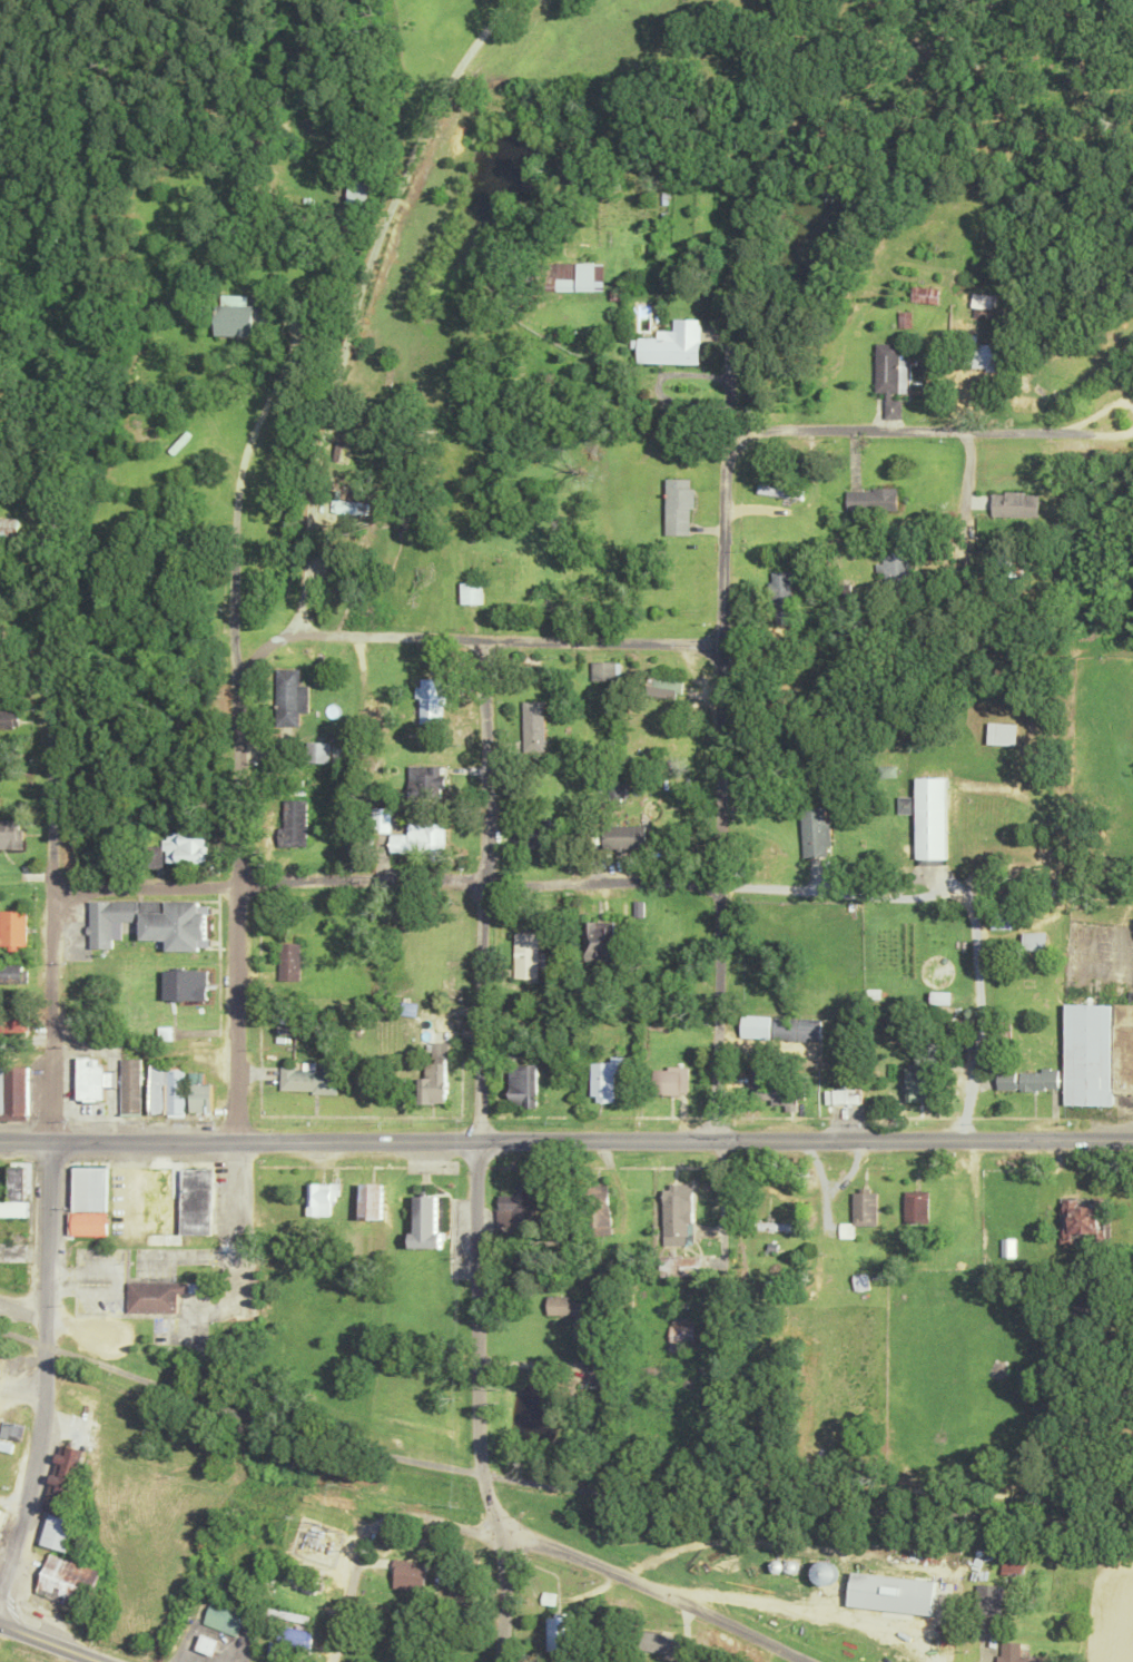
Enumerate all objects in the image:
building: (573, 276)
road: (357, 299)
building: (234, 317)
building: (671, 345)
building: (979, 354)
building: (887, 376)
road: (1101, 413)
road: (896, 431)
road: (1103, 435)
building: (780, 491)
road: (722, 498)
building: (871, 500)
building: (1015, 504)
building: (346, 507)
building: (678, 507)
road: (235, 517)
building: (895, 568)
building: (471, 592)
building: (781, 597)
road: (466, 639)
building: (603, 670)
building: (664, 687)
building: (289, 696)
building: (431, 700)
building: (9, 719)
building: (533, 725)
building: (1001, 734)
building: (326, 755)
building: (886, 771)
building: (425, 776)
building: (618, 789)
building: (930, 817)
building: (296, 822)
building: (815, 832)
building: (10, 833)
building: (408, 834)
building: (528, 836)
building: (623, 836)
building: (187, 846)
road: (385, 878)
road: (718, 889)
road: (958, 902)
building: (150, 922)
building: (1001, 922)
building: (11, 930)
building: (598, 941)
building: (1034, 942)
road: (237, 948)
building: (526, 955)
building: (288, 960)
building: (11, 973)
building: (184, 984)
building: (10, 1022)
building: (755, 1026)
building: (284, 1029)
building: (797, 1030)
building: (165, 1032)
building: (442, 1049)
building: (1123, 1049)
road: (51, 1051)
building: (1086, 1054)
building: (107, 1078)
building: (309, 1078)
building: (88, 1079)
building: (605, 1079)
building: (918, 1079)
building: (1036, 1079)
building: (1005, 1080)
building: (670, 1081)
building: (434, 1082)
building: (129, 1085)
building: (524, 1085)
building: (1, 1086)
building: (13, 1088)
building: (156, 1088)
building: (772, 1090)
building: (175, 1091)
building: (198, 1092)
building: (841, 1096)
road: (565, 1140)
road: (479, 1152)
building: (88, 1188)
building: (13, 1192)
building: (322, 1197)
building: (372, 1200)
building: (162, 1201)
building: (195, 1201)
building: (865, 1207)
building: (519, 1208)
building: (916, 1208)
building: (599, 1210)
building: (678, 1216)
building: (1076, 1219)
building: (87, 1222)
building: (424, 1222)
building: (287, 1232)
building: (10, 1251)
building: (679, 1266)
building: (861, 1282)
building: (154, 1294)
road: (22, 1311)
building: (573, 1314)
building: (682, 1335)
road: (20, 1396)
building: (10, 1430)
road: (556, 1477)
building: (61, 1479)
building: (57, 1532)
road: (530, 1536)
building: (776, 1565)
silo: (776, 1565)
building: (790, 1565)
silo: (790, 1565)
building: (824, 1572)
silo: (824, 1572)
building: (67, 1581)
building: (403, 1582)
road: (0, 1583)
road: (0, 1584)
building: (890, 1593)
building: (987, 1599)
building: (288, 1615)
building: (224, 1617)
building: (560, 1632)
building: (296, 1638)
road: (51, 1642)
building: (662, 1643)
building: (208, 1645)
building: (275, 1648)
building: (1017, 1653)

